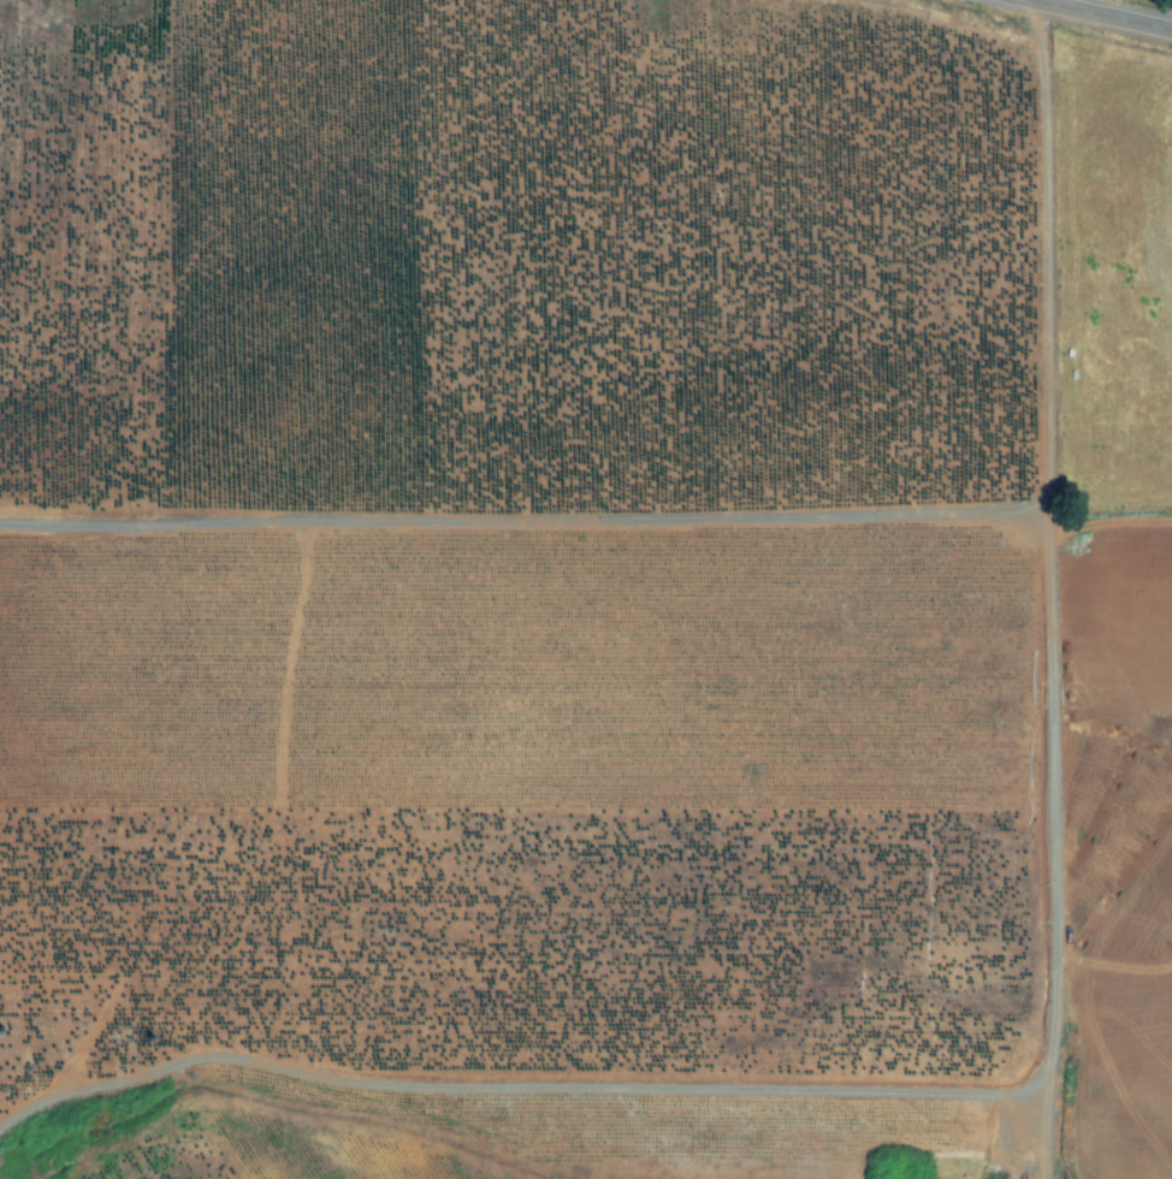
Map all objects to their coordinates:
road: (1060, 2)
road: (1102, 14)
road: (523, 526)
road: (1048, 588)
crop: (580, 596)
road: (522, 1091)

